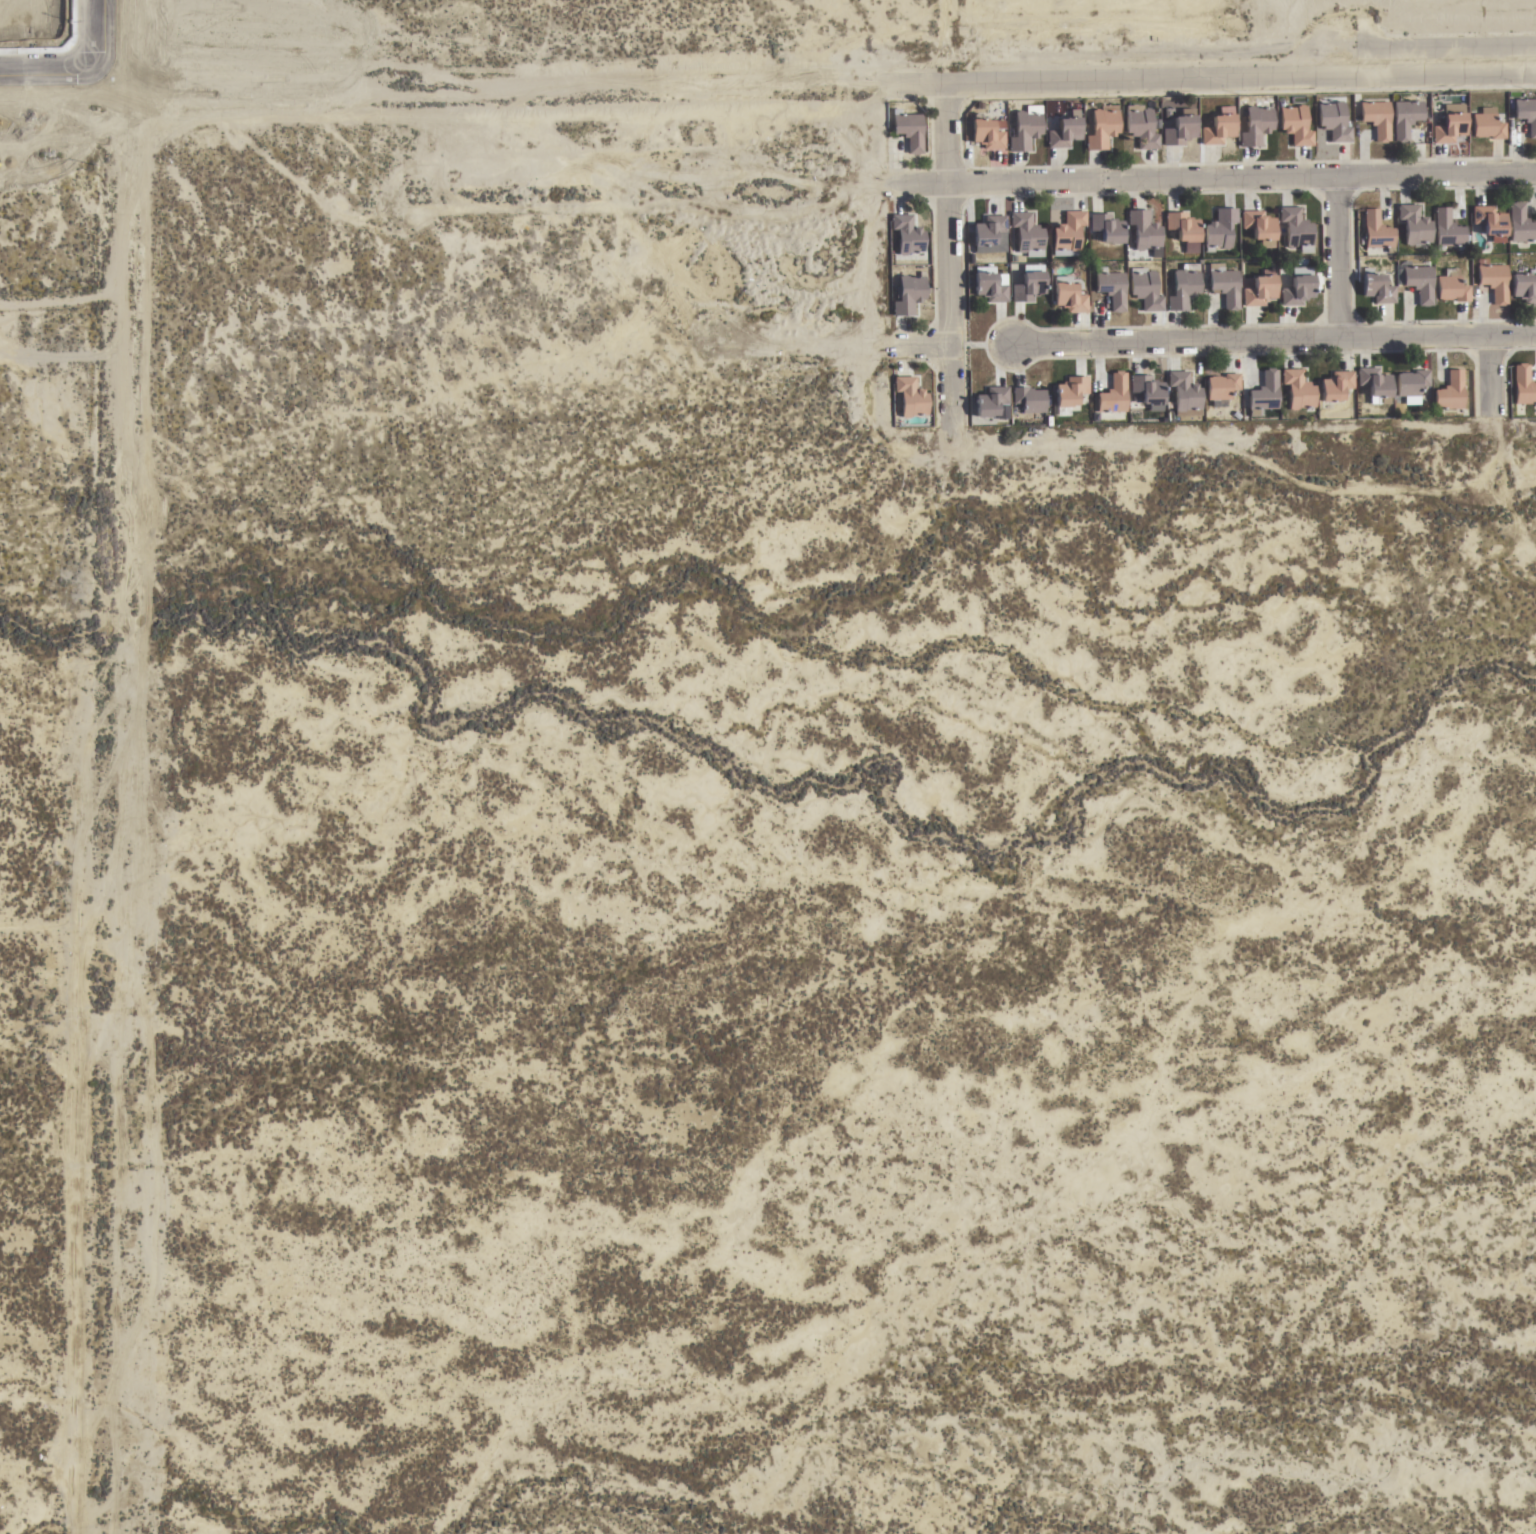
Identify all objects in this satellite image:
road: (101, 36)
road: (956, 46)
road: (50, 72)
road: (494, 83)
road: (1246, 87)
road: (922, 93)
building: (1530, 115)
building: (1407, 118)
building: (1416, 123)
building: (1387, 124)
building: (1343, 126)
building: (1359, 127)
building: (1305, 130)
building: (1497, 130)
building: (1151, 131)
building: (1266, 131)
building: (1111, 132)
building: (1229, 132)
building: (1035, 133)
building: (1459, 133)
building: (919, 135)
building: (1189, 136)
building: (997, 138)
building: (1073, 138)
road: (1213, 186)
building: (1500, 228)
building: (1527, 228)
building: (1424, 229)
building: (1070, 231)
building: (1116, 233)
building: (1269, 233)
building: (1305, 233)
building: (1154, 235)
building: (1229, 235)
building: (1457, 235)
building: (1193, 236)
building: (1385, 236)
building: (1036, 237)
building: (916, 239)
building: (997, 239)
building: (1078, 239)
building: (1011, 247)
building: (1166, 259)
building: (928, 261)
road: (959, 262)
building: (1021, 263)
road: (1349, 264)
building: (1503, 286)
building: (1428, 287)
building: (1235, 290)
building: (1528, 291)
building: (998, 292)
building: (1038, 292)
building: (1194, 292)
building: (1462, 292)
building: (1122, 293)
building: (1154, 294)
building: (1307, 294)
building: (1387, 294)
building: (1269, 296)
building: (918, 300)
building: (1078, 303)
road: (1278, 346)
road: (927, 352)
road: (1502, 383)
building: (1222, 386)
building: (1383, 388)
building: (1421, 388)
building: (1530, 390)
building: (1266, 391)
building: (1345, 391)
building: (1115, 394)
building: (1231, 394)
building: (1156, 395)
building: (1308, 395)
building: (1460, 397)
building: (1080, 398)
building: (1274, 400)
building: (1123, 401)
building: (1195, 401)
building: (920, 403)
building: (1038, 405)
building: (999, 406)
building: (1395, 406)
building: (1012, 418)
building: (1247, 422)
road: (113, 801)
road: (53, 918)

